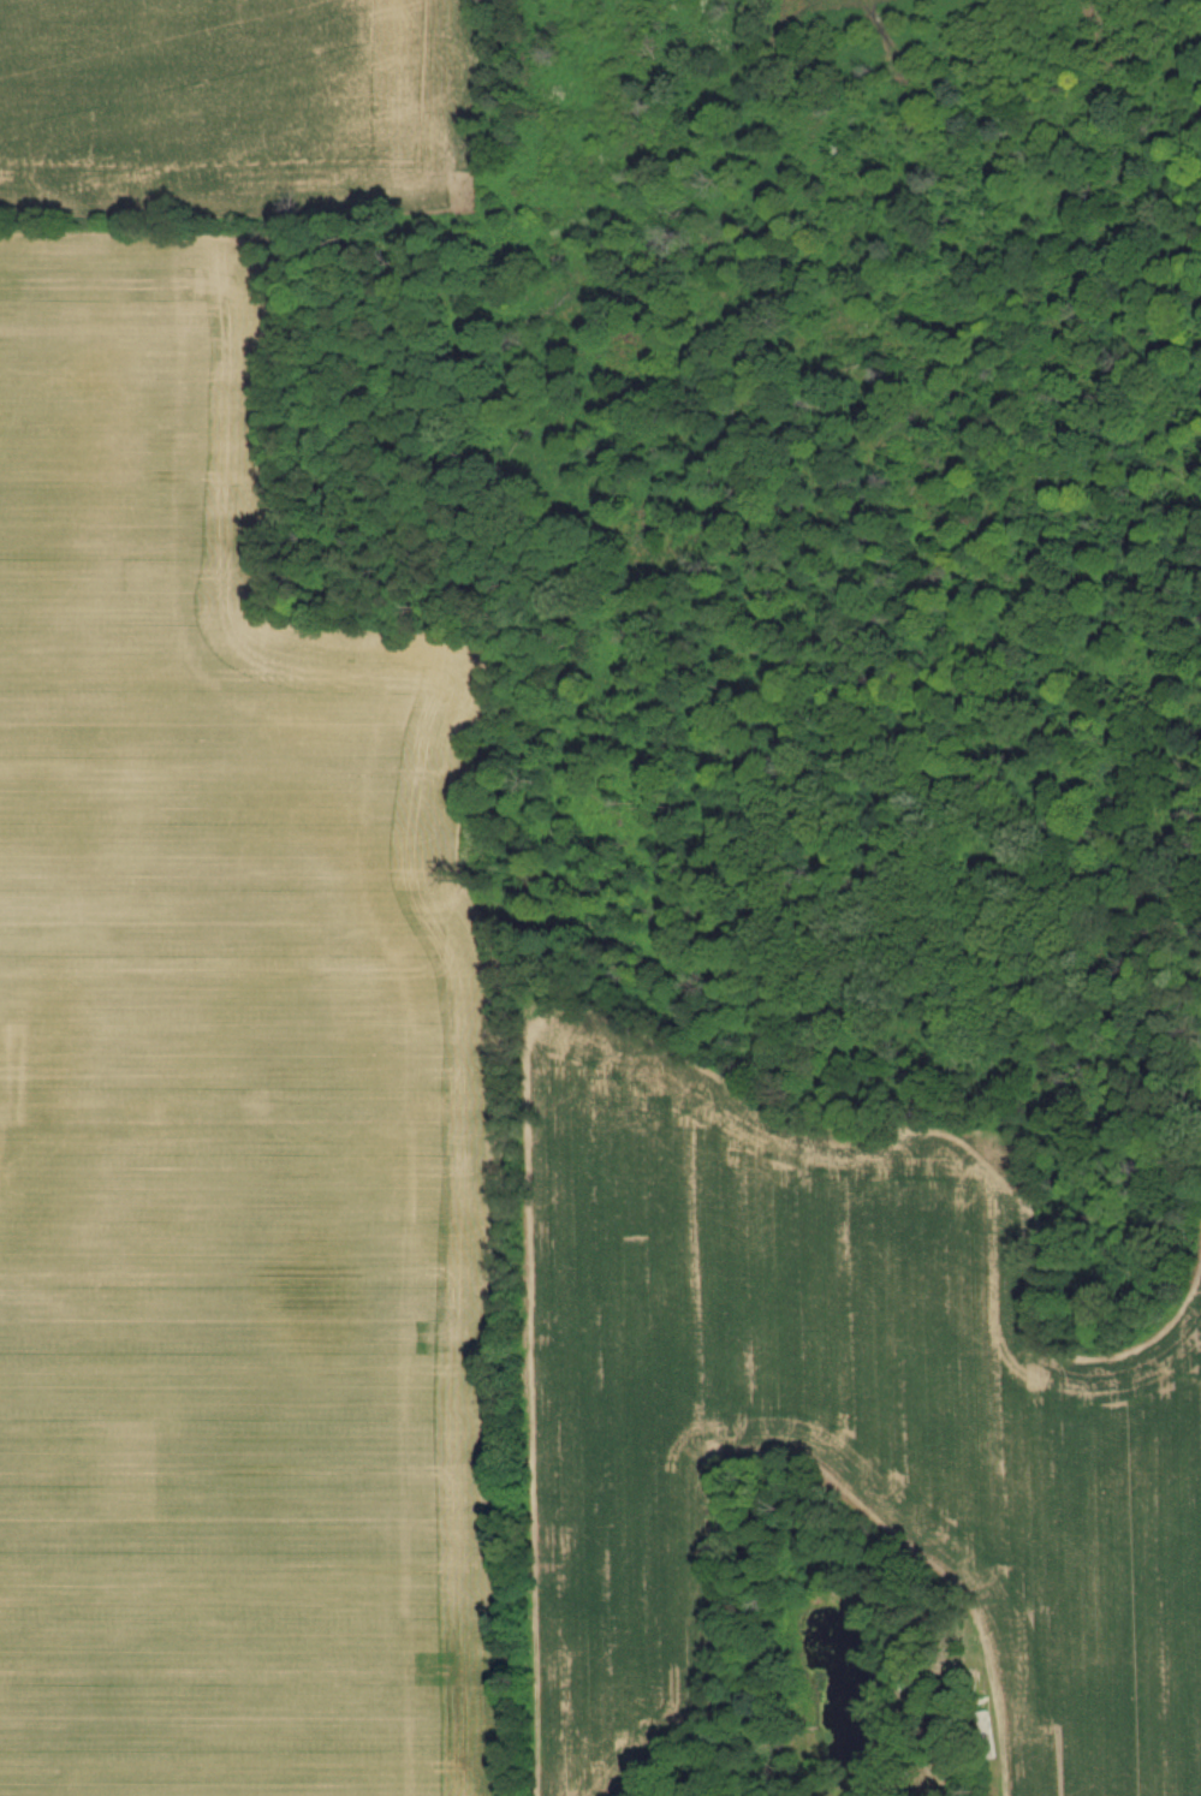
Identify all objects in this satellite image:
crop: (237, 105)
crop: (212, 739)
crop: (839, 1413)
crop: (250, 1464)

